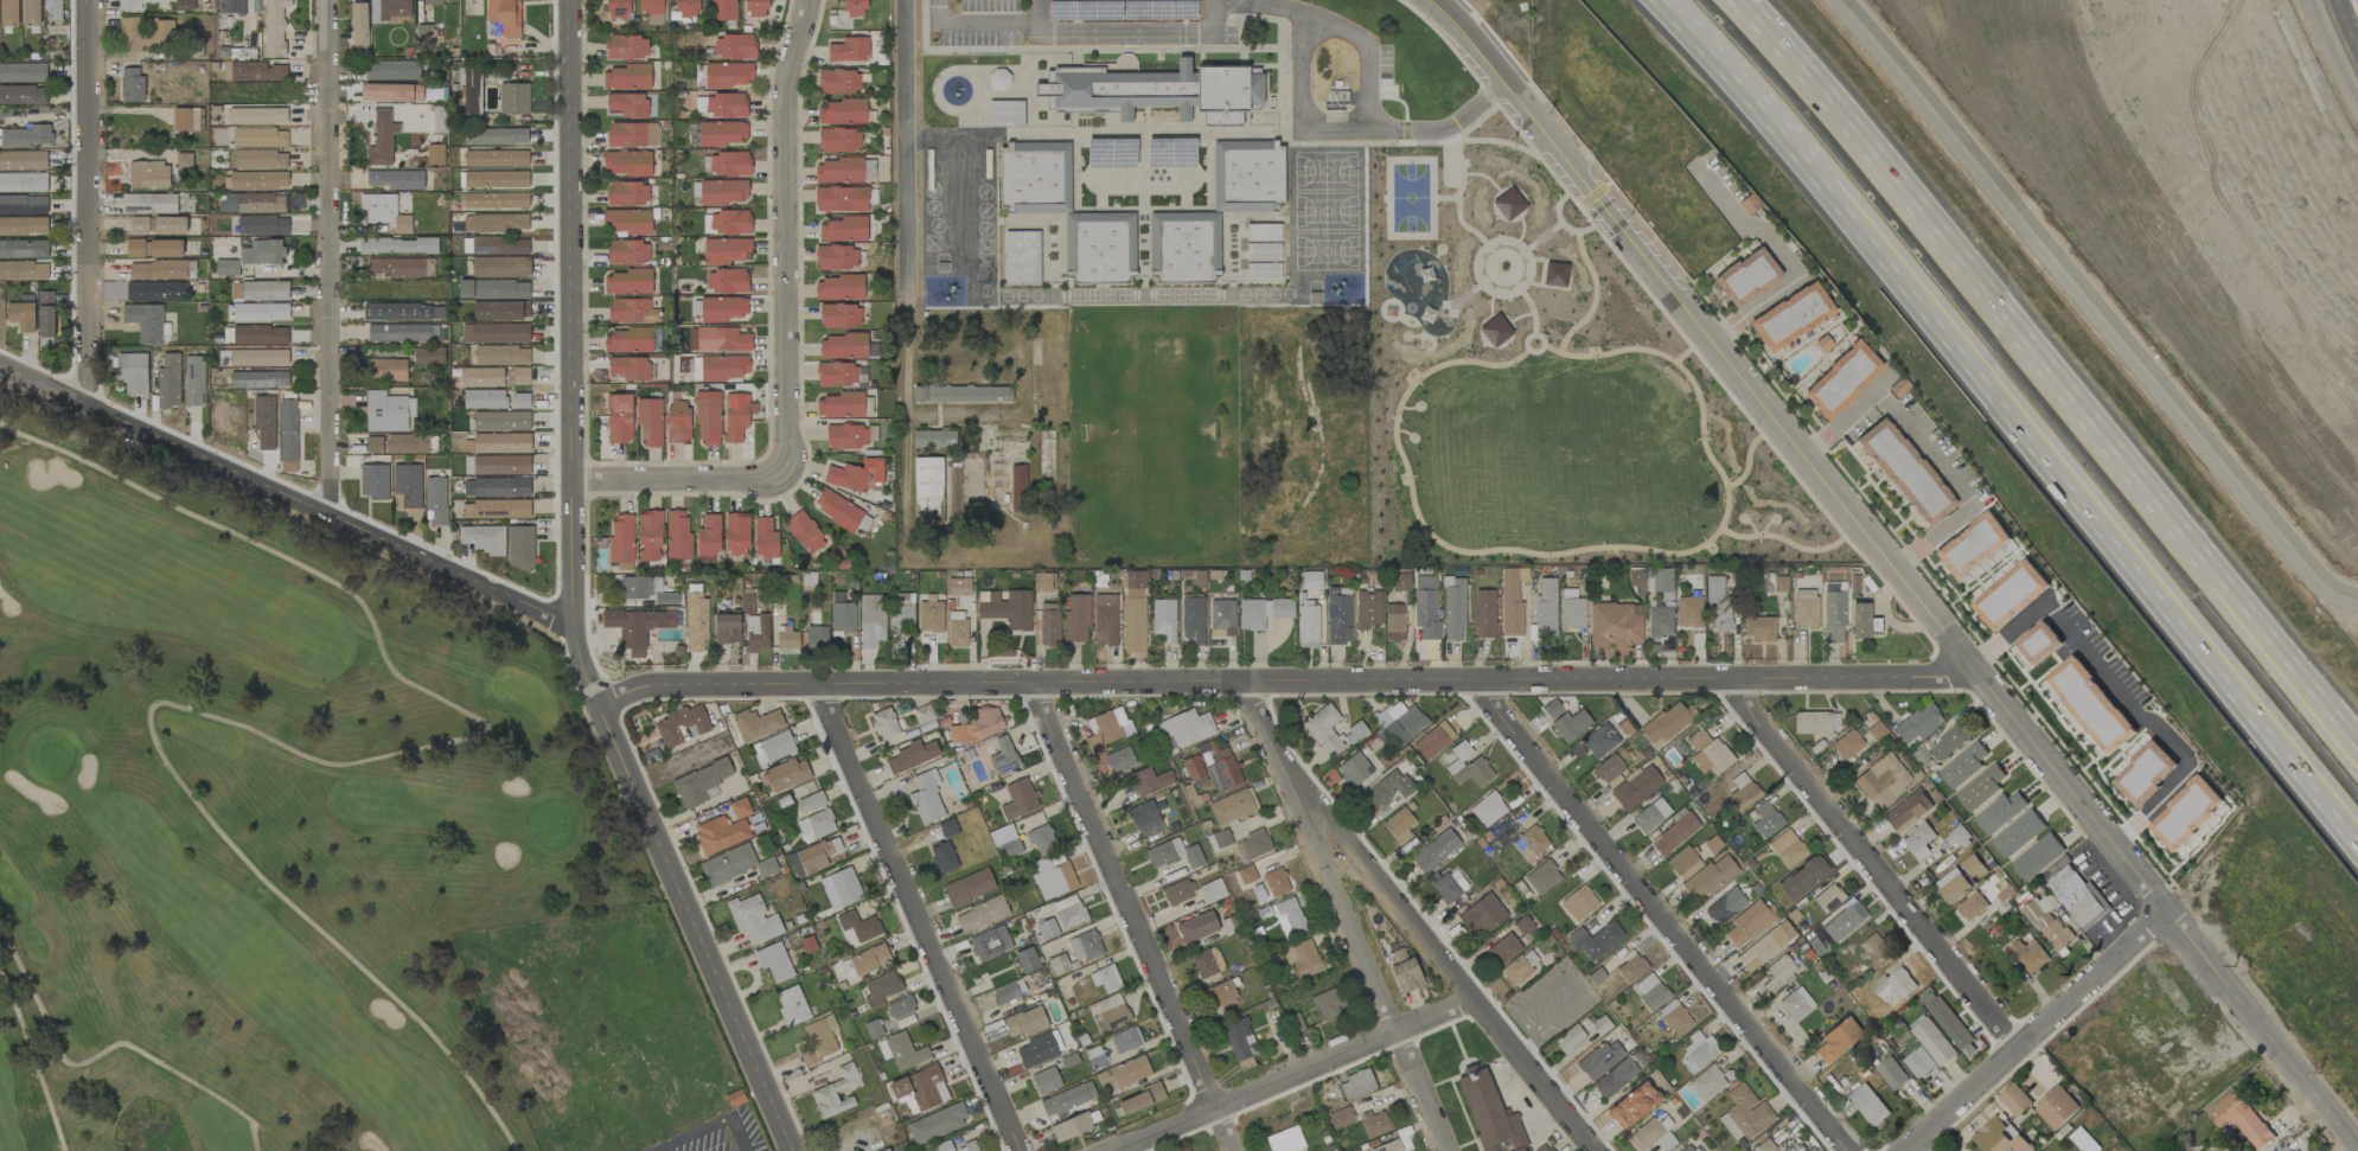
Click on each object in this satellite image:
road: (2322, 0)
building: (432, 2)
building: (135, 5)
building: (650, 6)
building: (231, 7)
building: (686, 8)
building: (755, 8)
building: (854, 8)
building: (52, 9)
building: (618, 9)
building: (723, 9)
building: (390, 11)
building: (8, 13)
building: (31, 13)
road: (1036, 14)
building: (504, 15)
building: (359, 25)
building: (274, 26)
building: (143, 32)
road: (1082, 32)
road: (2339, 40)
road: (1465, 41)
building: (734, 46)
building: (626, 47)
building: (848, 50)
road: (1372, 50)
building: (253, 71)
building: (392, 71)
building: (23, 72)
building: (728, 75)
building: (627, 77)
building: (998, 79)
building: (838, 82)
building: (132, 84)
building: (1158, 90)
building: (391, 92)
building: (23, 95)
building: (513, 98)
building: (627, 104)
building: (471, 105)
building: (721, 105)
building: (842, 113)
building: (257, 116)
building: (185, 120)
road: (1305, 129)
building: (722, 133)
building: (631, 135)
building: (498, 136)
building: (25, 138)
building: (258, 138)
building: (381, 139)
building: (838, 140)
road: (900, 152)
building: (1111, 153)
building: (434, 154)
building: (260, 159)
building: (496, 159)
building: (23, 160)
building: (183, 160)
building: (626, 164)
building: (726, 164)
building: (838, 171)
building: (868, 171)
building: (148, 174)
building: (1247, 174)
building: (1035, 177)
building: (396, 179)
building: (496, 179)
building: (255, 180)
building: (23, 183)
building: (723, 192)
building: (627, 193)
building: (841, 199)
road: (84, 200)
building: (493, 200)
building: (149, 203)
building: (251, 203)
building: (23, 204)
building: (384, 212)
building: (626, 222)
building: (496, 223)
building: (727, 223)
building: (158, 224)
building: (262, 225)
building: (23, 226)
building: (843, 230)
building: (1263, 232)
road: (782, 238)
building: (397, 245)
building: (499, 245)
building: (1184, 247)
building: (153, 248)
building: (1099, 248)
building: (24, 249)
building: (727, 250)
building: (262, 252)
building: (627, 252)
building: (1263, 252)
road: (326, 255)
building: (836, 257)
building: (1021, 257)
road: (1782, 262)
building: (500, 267)
building: (226, 268)
building: (401, 268)
building: (23, 270)
building: (156, 270)
building: (1263, 273)
building: (1746, 276)
building: (726, 281)
building: (627, 282)
building: (838, 288)
building: (493, 289)
building: (258, 290)
building: (155, 292)
road: (2089, 306)
building: (722, 309)
building: (500, 311)
building: (632, 311)
building: (260, 312)
building: (402, 312)
building: (45, 314)
building: (21, 315)
building: (839, 315)
building: (1790, 316)
building: (147, 322)
building: (402, 333)
building: (494, 333)
building: (256, 335)
building: (627, 340)
building: (722, 340)
building: (843, 346)
building: (501, 354)
building: (428, 356)
building: (258, 358)
building: (628, 367)
building: (720, 367)
building: (385, 369)
road: (2049, 370)
building: (132, 372)
building: (520, 375)
building: (841, 375)
building: (481, 377)
building: (258, 379)
building: (1842, 379)
building: (167, 381)
building: (193, 381)
park: (1546, 390)
building: (961, 394)
building: (484, 399)
building: (520, 401)
building: (841, 405)
building: (384, 411)
road: (2011, 414)
building: (619, 418)
building: (708, 418)
building: (500, 421)
building: (735, 421)
building: (264, 422)
building: (650, 422)
building: (677, 422)
building: (287, 435)
building: (846, 436)
building: (933, 439)
building: (501, 442)
building: (397, 443)
road: (1924, 450)
building: (497, 465)
building: (1903, 471)
building: (855, 474)
road: (675, 477)
building: (373, 481)
building: (408, 485)
building: (496, 487)
building: (1017, 487)
building: (927, 490)
road: (287, 493)
building: (436, 501)
building: (496, 510)
building: (837, 510)
building: (805, 532)
building: (677, 535)
building: (736, 535)
building: (648, 536)
building: (708, 537)
building: (483, 538)
building: (765, 539)
building: (621, 541)
building: (1972, 545)
building: (519, 548)
building: (1310, 580)
building: (1662, 580)
building: (1400, 582)
building: (640, 587)
building: (959, 587)
building: (2011, 594)
road: (573, 597)
building: (666, 599)
building: (1512, 601)
building: (1717, 602)
building: (1425, 606)
building: (1007, 608)
building: (1545, 608)
building: (1804, 608)
building: (901, 609)
building: (1367, 609)
building: (1453, 609)
building: (1571, 609)
building: (1133, 612)
building: (1261, 612)
building: (1687, 612)
building: (842, 614)
building: (1484, 614)
building: (931, 615)
building: (1338, 615)
building: (1833, 616)
building: (1076, 618)
building: (1222, 618)
building: (1193, 619)
road: (1928, 619)
building: (871, 620)
building: (1105, 620)
building: (1163, 620)
building: (1859, 620)
building: (696, 621)
building: (1660, 621)
building: (1394, 622)
building: (1048, 625)
building: (1308, 625)
building: (1615, 625)
building: (727, 628)
building: (957, 628)
building: (1757, 628)
building: (756, 633)
building: (816, 638)
building: (787, 641)
building: (2038, 642)
road: (1610, 680)
road: (920, 688)
road: (2115, 691)
building: (2091, 704)
building: (1552, 709)
building: (925, 717)
building: (1400, 722)
building: (1666, 723)
building: (1815, 723)
building: (756, 724)
building: (884, 724)
building: (1917, 724)
building: (682, 725)
building: (1570, 725)
building: (977, 727)
building: (1186, 728)
building: (1106, 729)
building: (1323, 729)
building: (1354, 733)
building: (1871, 733)
building: (1433, 741)
building: (1600, 741)
building: (1944, 743)
building: (1846, 744)
building: (777, 746)
building: (1707, 753)
building: (910, 756)
building: (1003, 756)
building: (1119, 760)
building: (1963, 765)
building: (1468, 766)
building: (1193, 768)
building: (1223, 769)
building: (1354, 769)
building: (1610, 772)
building: (2145, 773)
building: (786, 774)
building: (1883, 780)
building: (1149, 781)
building: (699, 782)
building: (1636, 787)
building: (1387, 788)
building: (1980, 788)
building: (1742, 791)
building: (926, 799)
building: (1018, 799)
building: (811, 802)
building: (1232, 806)
building: (739, 808)
building: (1488, 808)
building: (1906, 811)
building: (2000, 812)
building: (2186, 813)
building: (1650, 816)
building: (1145, 818)
building: (1765, 820)
building: (814, 826)
building: (948, 827)
building: (721, 833)
building: (2018, 833)
building: (1674, 835)
building: (1041, 839)
building: (1218, 839)
building: (1005, 840)
building: (1917, 840)
building: (1529, 843)
building: (1253, 845)
building: (1787, 848)
park: (307, 850)
building: (1434, 850)
building: (1163, 851)
building: (813, 857)
building: (944, 857)
building: (2037, 857)
building: (1683, 863)
road: (1867, 863)
building: (734, 864)
building: (1246, 875)
building: (1053, 877)
building: (1542, 877)
building: (1803, 877)
building: (1710, 878)
building: (1276, 882)
building: (1954, 885)
building: (841, 888)
building: (969, 888)
building: (1212, 890)
building: (1177, 891)
building: (2077, 896)
building: (1828, 899)
building: (1579, 902)
building: (1725, 906)
building: (1972, 907)
building: (1068, 912)
building: (982, 914)
building: (1482, 914)
road: (1659, 916)
road: (1131, 917)
building: (1289, 917)
road: (1348, 917)
building: (753, 920)
road: (920, 921)
building: (1843, 921)
building: (2047, 922)
building: (1747, 923)
building: (1197, 927)
building: (857, 928)
building: (1046, 929)
building: (1595, 940)
building: (989, 944)
building: (1085, 946)
building: (1877, 948)
building: (1503, 949)
building: (1762, 949)
building: (2028, 955)
building: (1302, 958)
building: (869, 959)
building: (1027, 960)
building: (774, 961)
building: (1207, 963)
building: (1061, 965)
building: (1630, 968)
building: (1516, 970)
building: (1404, 971)
road: (1455, 971)
building: (1106, 978)
road: (1558, 978)
building: (1894, 985)
building: (881, 989)
building: (1009, 991)
building: (1650, 992)
building: (1221, 995)
building: (1796, 1004)
building: (1325, 1005)
building: (792, 1006)
building: (900, 1008)
building: (1112, 1011)
building: (1674, 1018)
building: (1948, 1021)
building: (1024, 1023)
building: (1295, 1023)
road: (2036, 1031)
building: (1570, 1037)
building: (818, 1040)
building: (1125, 1040)
building: (1239, 1040)
building: (1836, 1040)
building: (1932, 1040)
road: (1526, 1044)
building: (901, 1051)
building: (1036, 1051)
building: (1696, 1051)
building: (1599, 1059)
building: (1919, 1063)
building: (1129, 1072)
road: (1295, 1073)
building: (1891, 1073)
building: (1615, 1078)
building: (1046, 1081)
building: (1706, 1083)
building: (1356, 1085)
building: (919, 1087)
building: (836, 1093)
building: (1067, 1099)
building: (1140, 1099)
building: (2014, 1100)
building: (1632, 1105)
building: (1868, 1105)
building: (2057, 1107)
building: (1489, 1113)
building: (1743, 1113)
road: (1534, 1114)
building: (1340, 1118)
building: (2239, 1119)
building: (1375, 1123)
building: (937, 1124)
building: (1072, 1126)
road: (709, 1128)
building: (1653, 1134)
parking lot: (720, 1136)
building: (1999, 1138)
building: (1285, 1140)
building: (967, 1146)
building: (1388, 1146)
building: (1542, 1147)
building: (1688, 1147)
building: (886, 1150)
building: (1187, 1150)
building: (1356, 1150)

